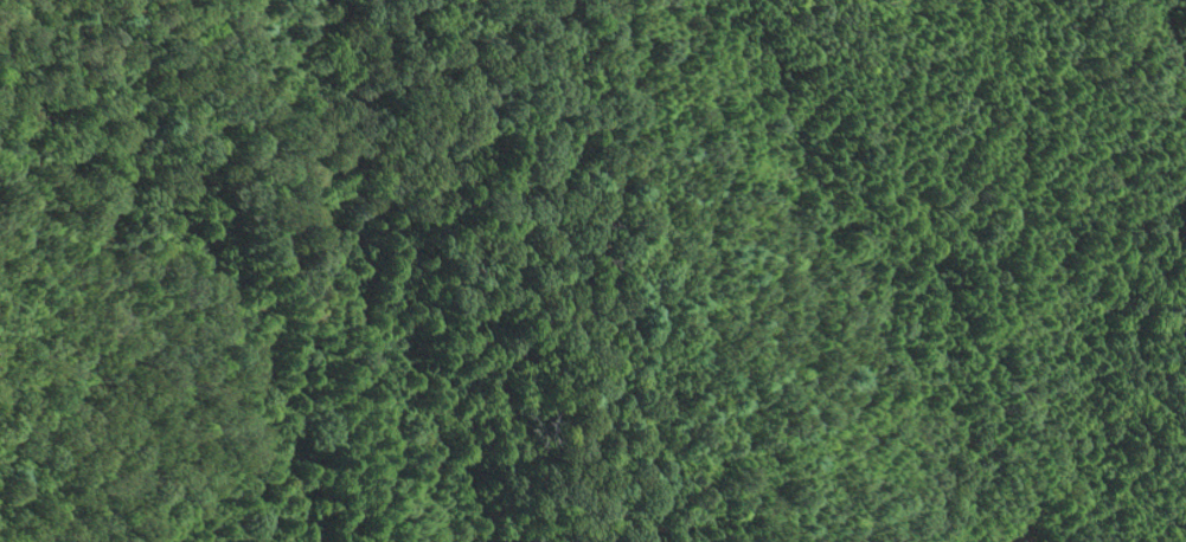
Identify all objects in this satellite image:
park: (592, 271)

